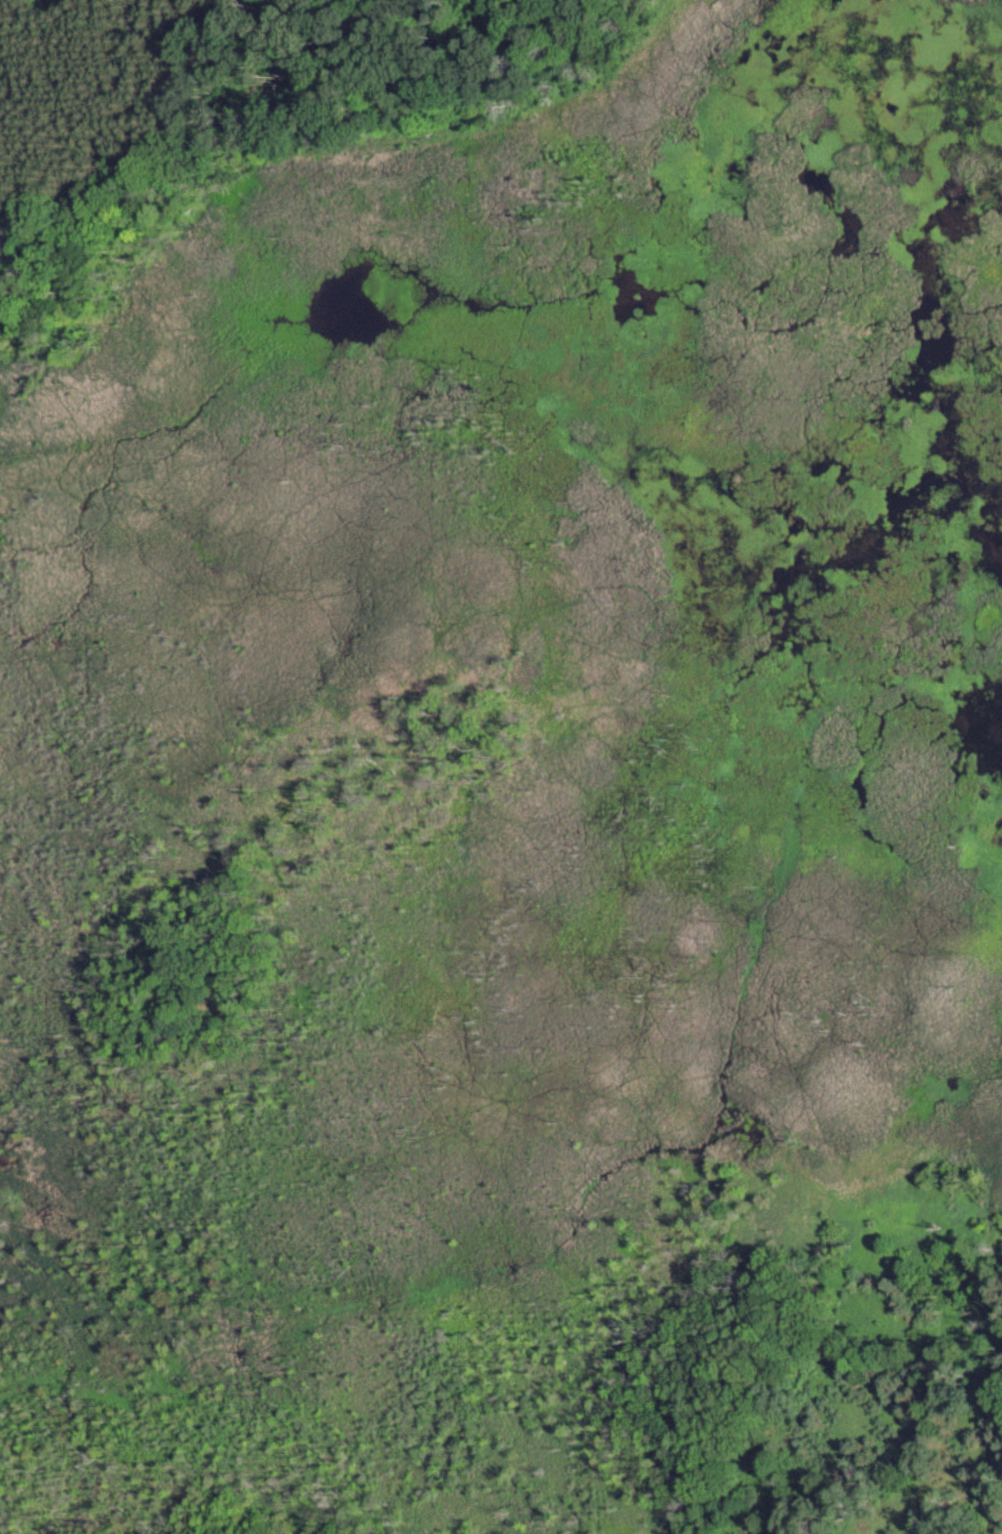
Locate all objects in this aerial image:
road: (929, 1383)

